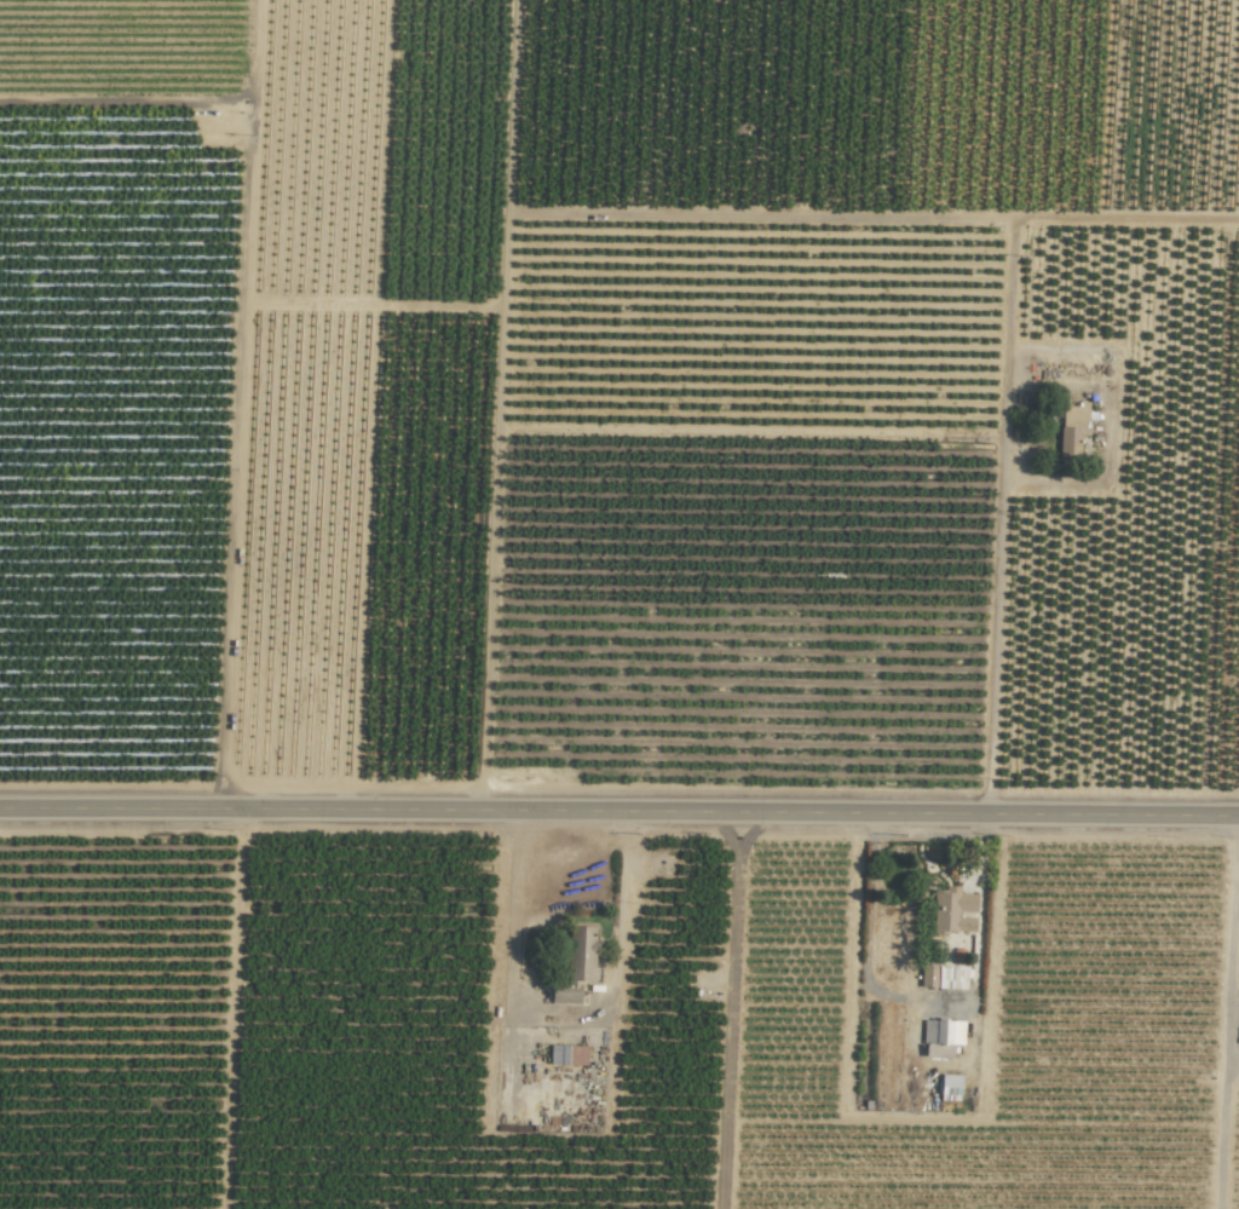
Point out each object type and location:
road: (1003, 638)
road: (618, 812)
building: (951, 912)
building: (586, 940)
road: (1228, 940)
road: (928, 1003)
road: (560, 1017)
building: (940, 1031)
building: (949, 1087)

